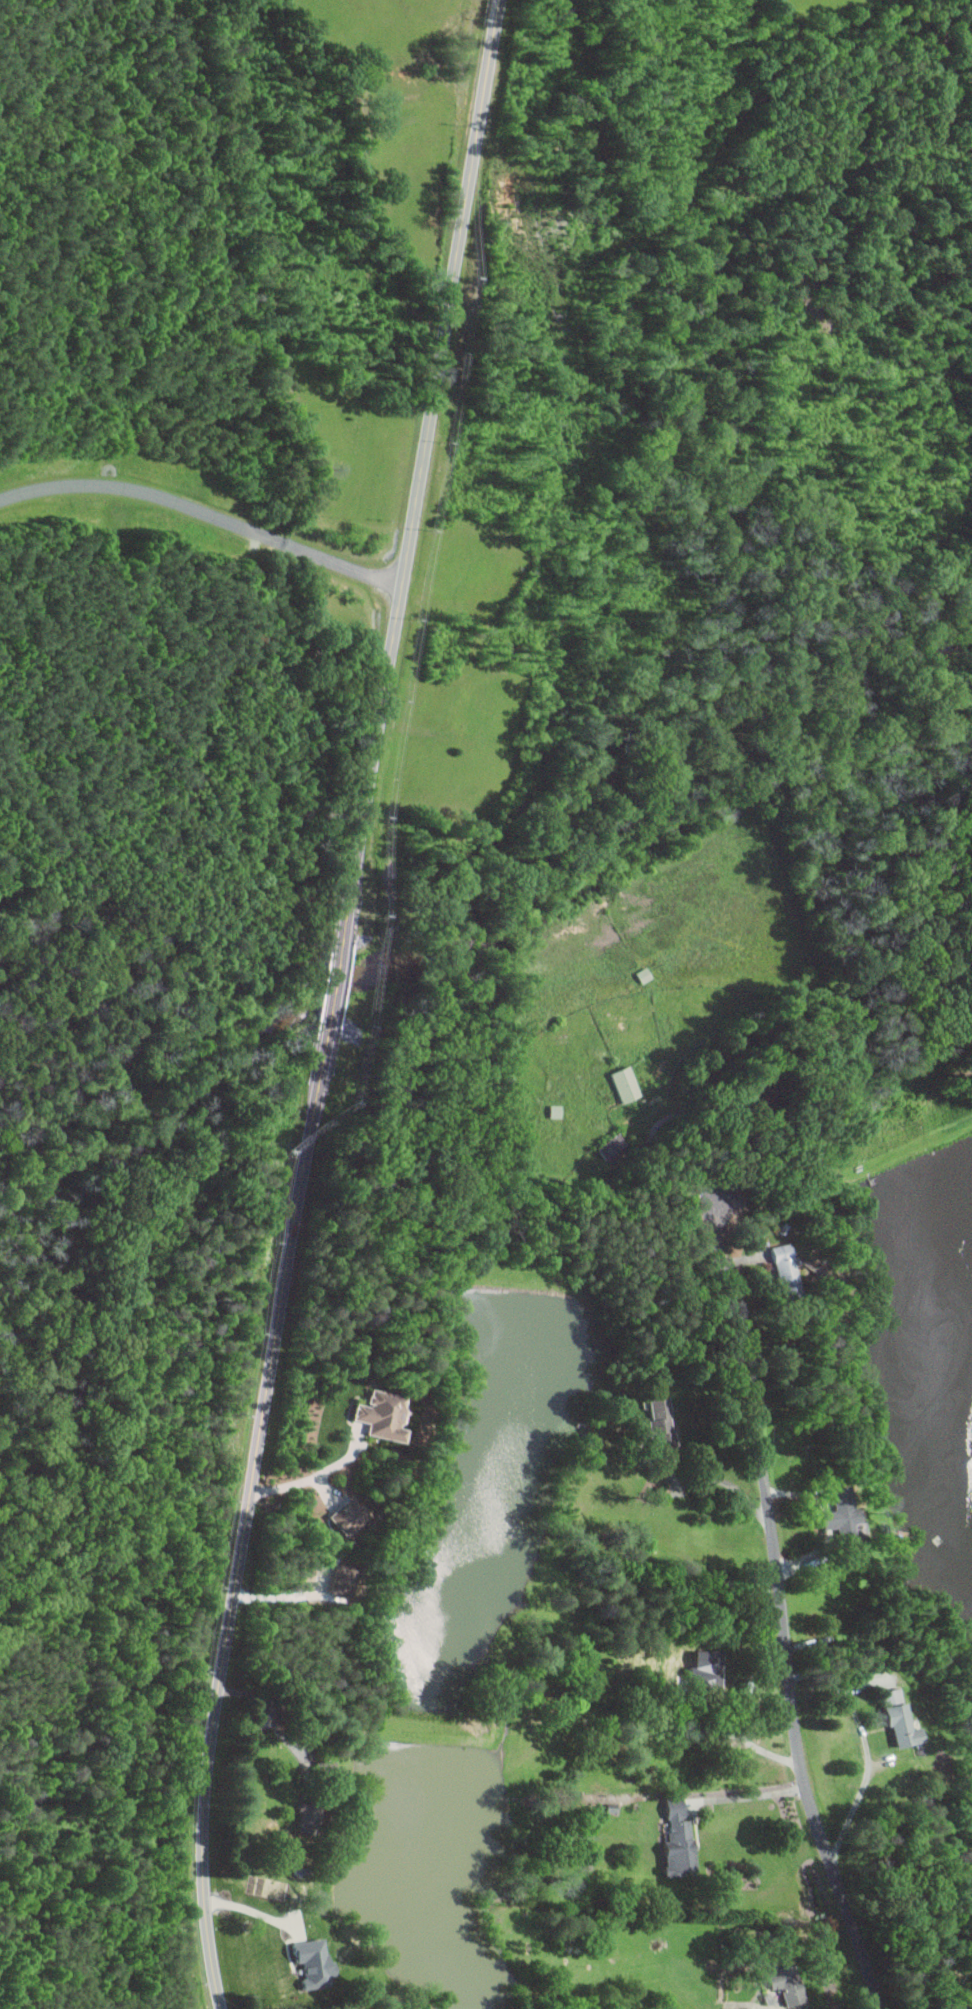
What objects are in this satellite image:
road: (124, 488)
road: (417, 494)
road: (265, 531)
road: (343, 559)
river: (670, 846)
building: (646, 974)
road: (333, 1007)
river: (173, 1082)
building: (627, 1084)
road: (653, 1142)
road: (719, 1216)
building: (796, 1268)
building: (391, 1413)
building: (662, 1413)
road: (308, 1480)
road: (724, 1480)
building: (846, 1511)
road: (248, 1516)
building: (354, 1516)
building: (345, 1579)
road: (286, 1597)
road: (784, 1625)
building: (713, 1666)
road: (283, 1706)
building: (904, 1720)
road: (867, 1747)
road: (749, 1793)
building: (680, 1838)
road: (251, 1910)
building: (315, 1962)
building: (793, 1985)
road: (971, 2007)

